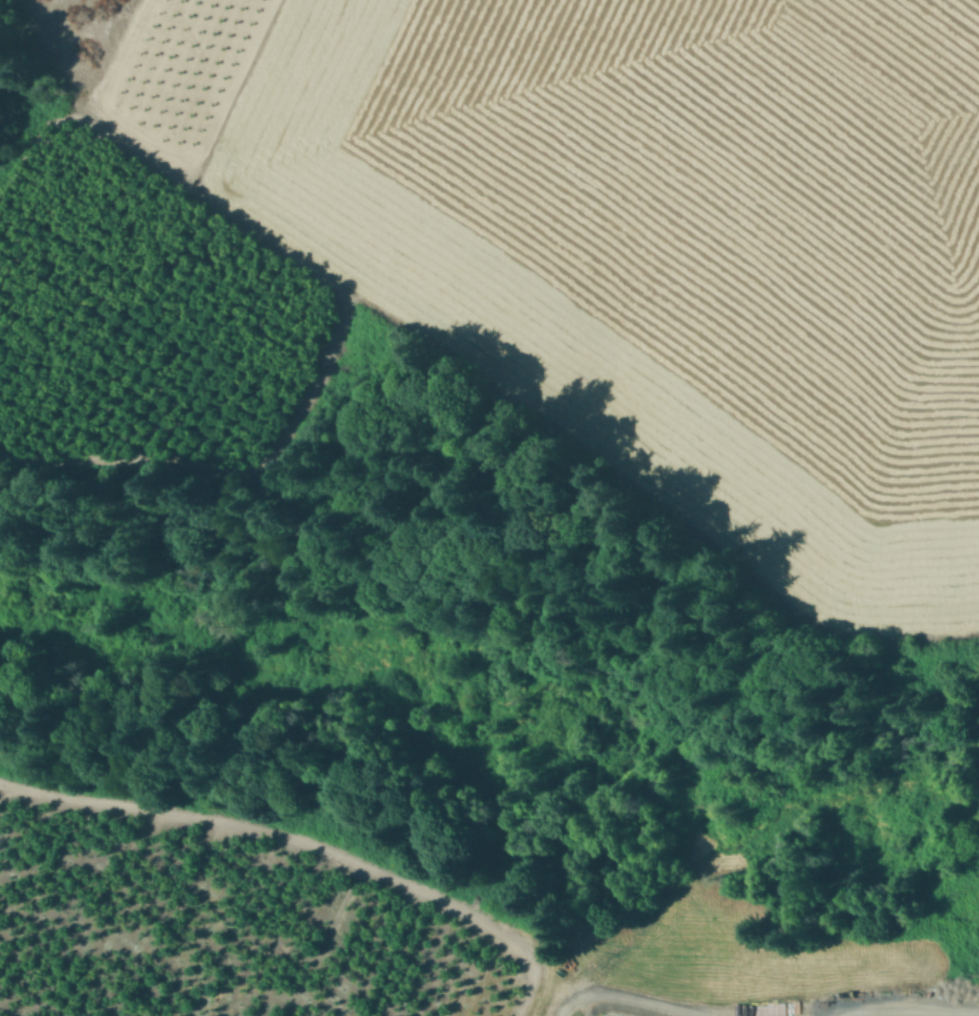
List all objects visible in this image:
crop: (624, 251)
road: (625, 998)
road: (909, 1011)

